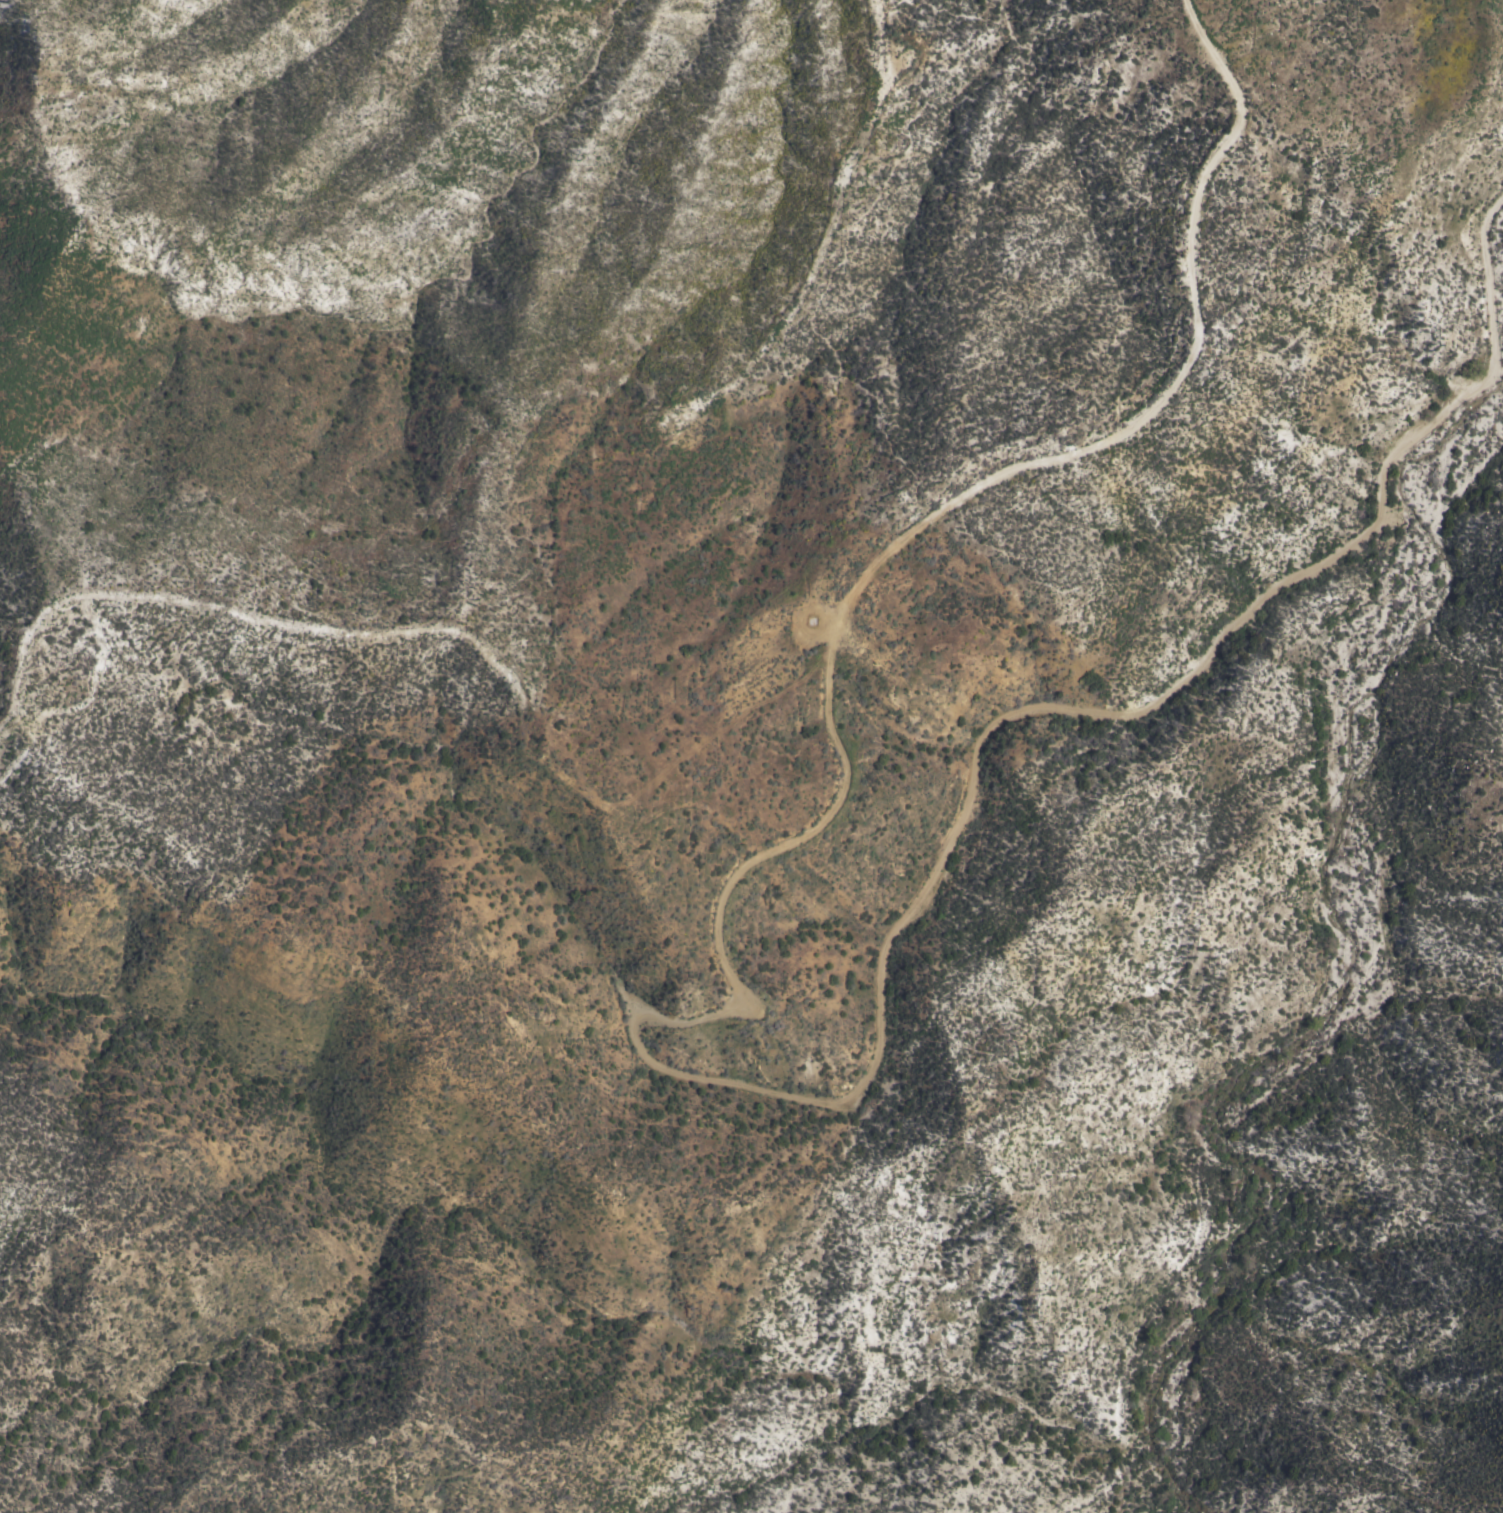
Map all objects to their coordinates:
road: (650, 1062)

